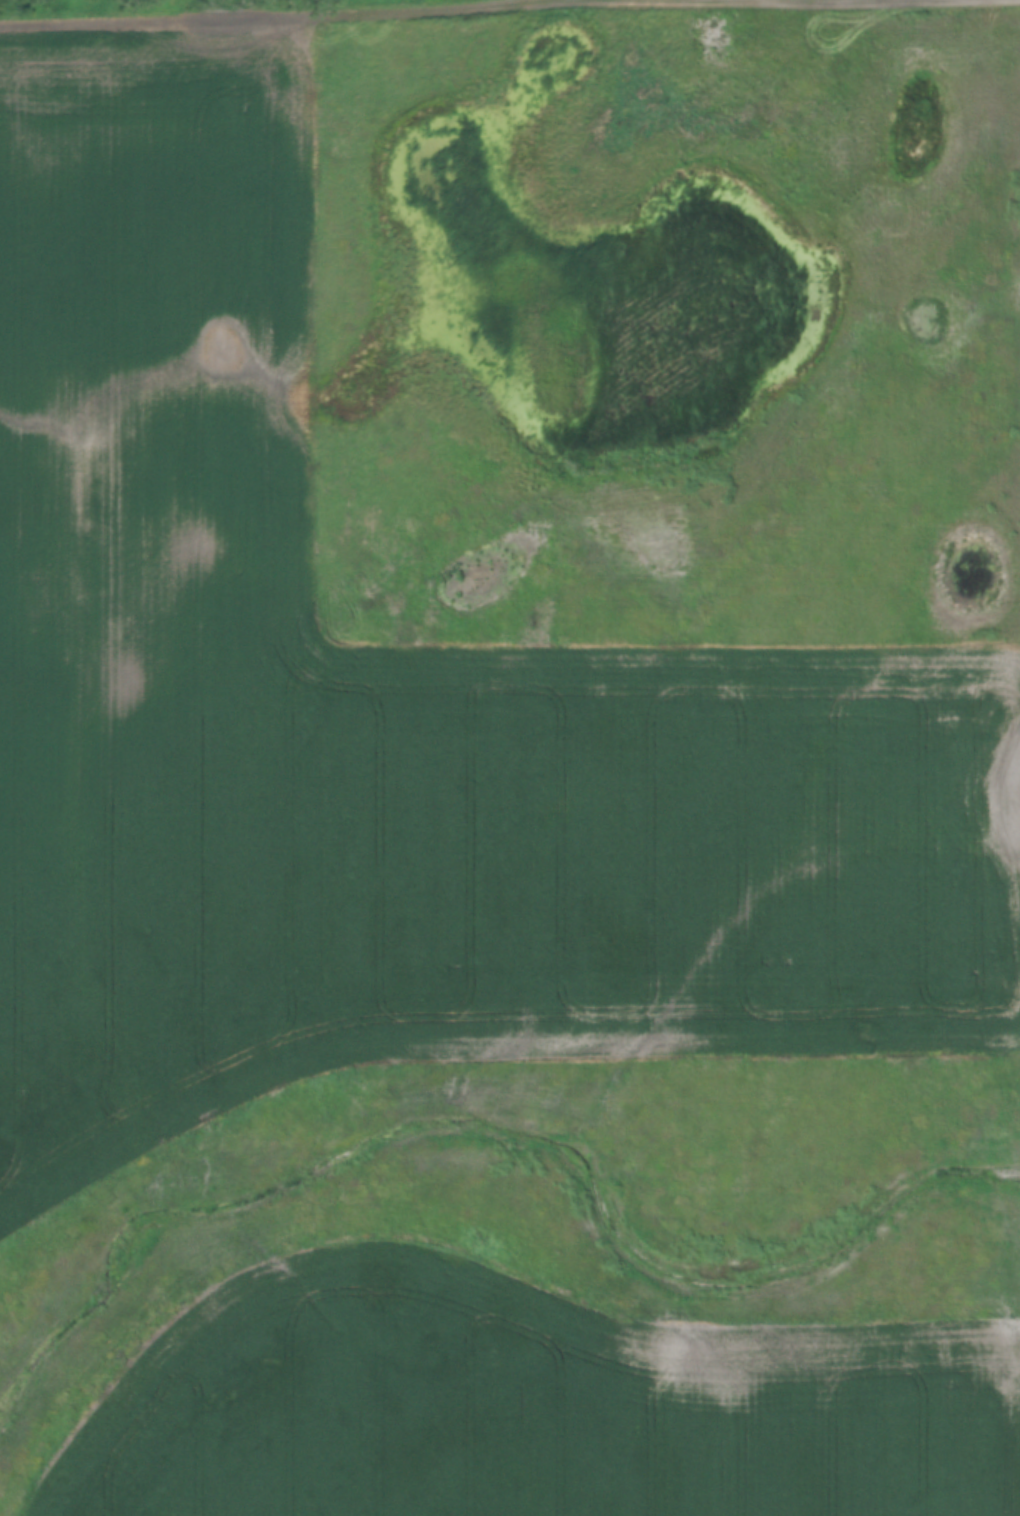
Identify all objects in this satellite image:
road: (459, 4)

